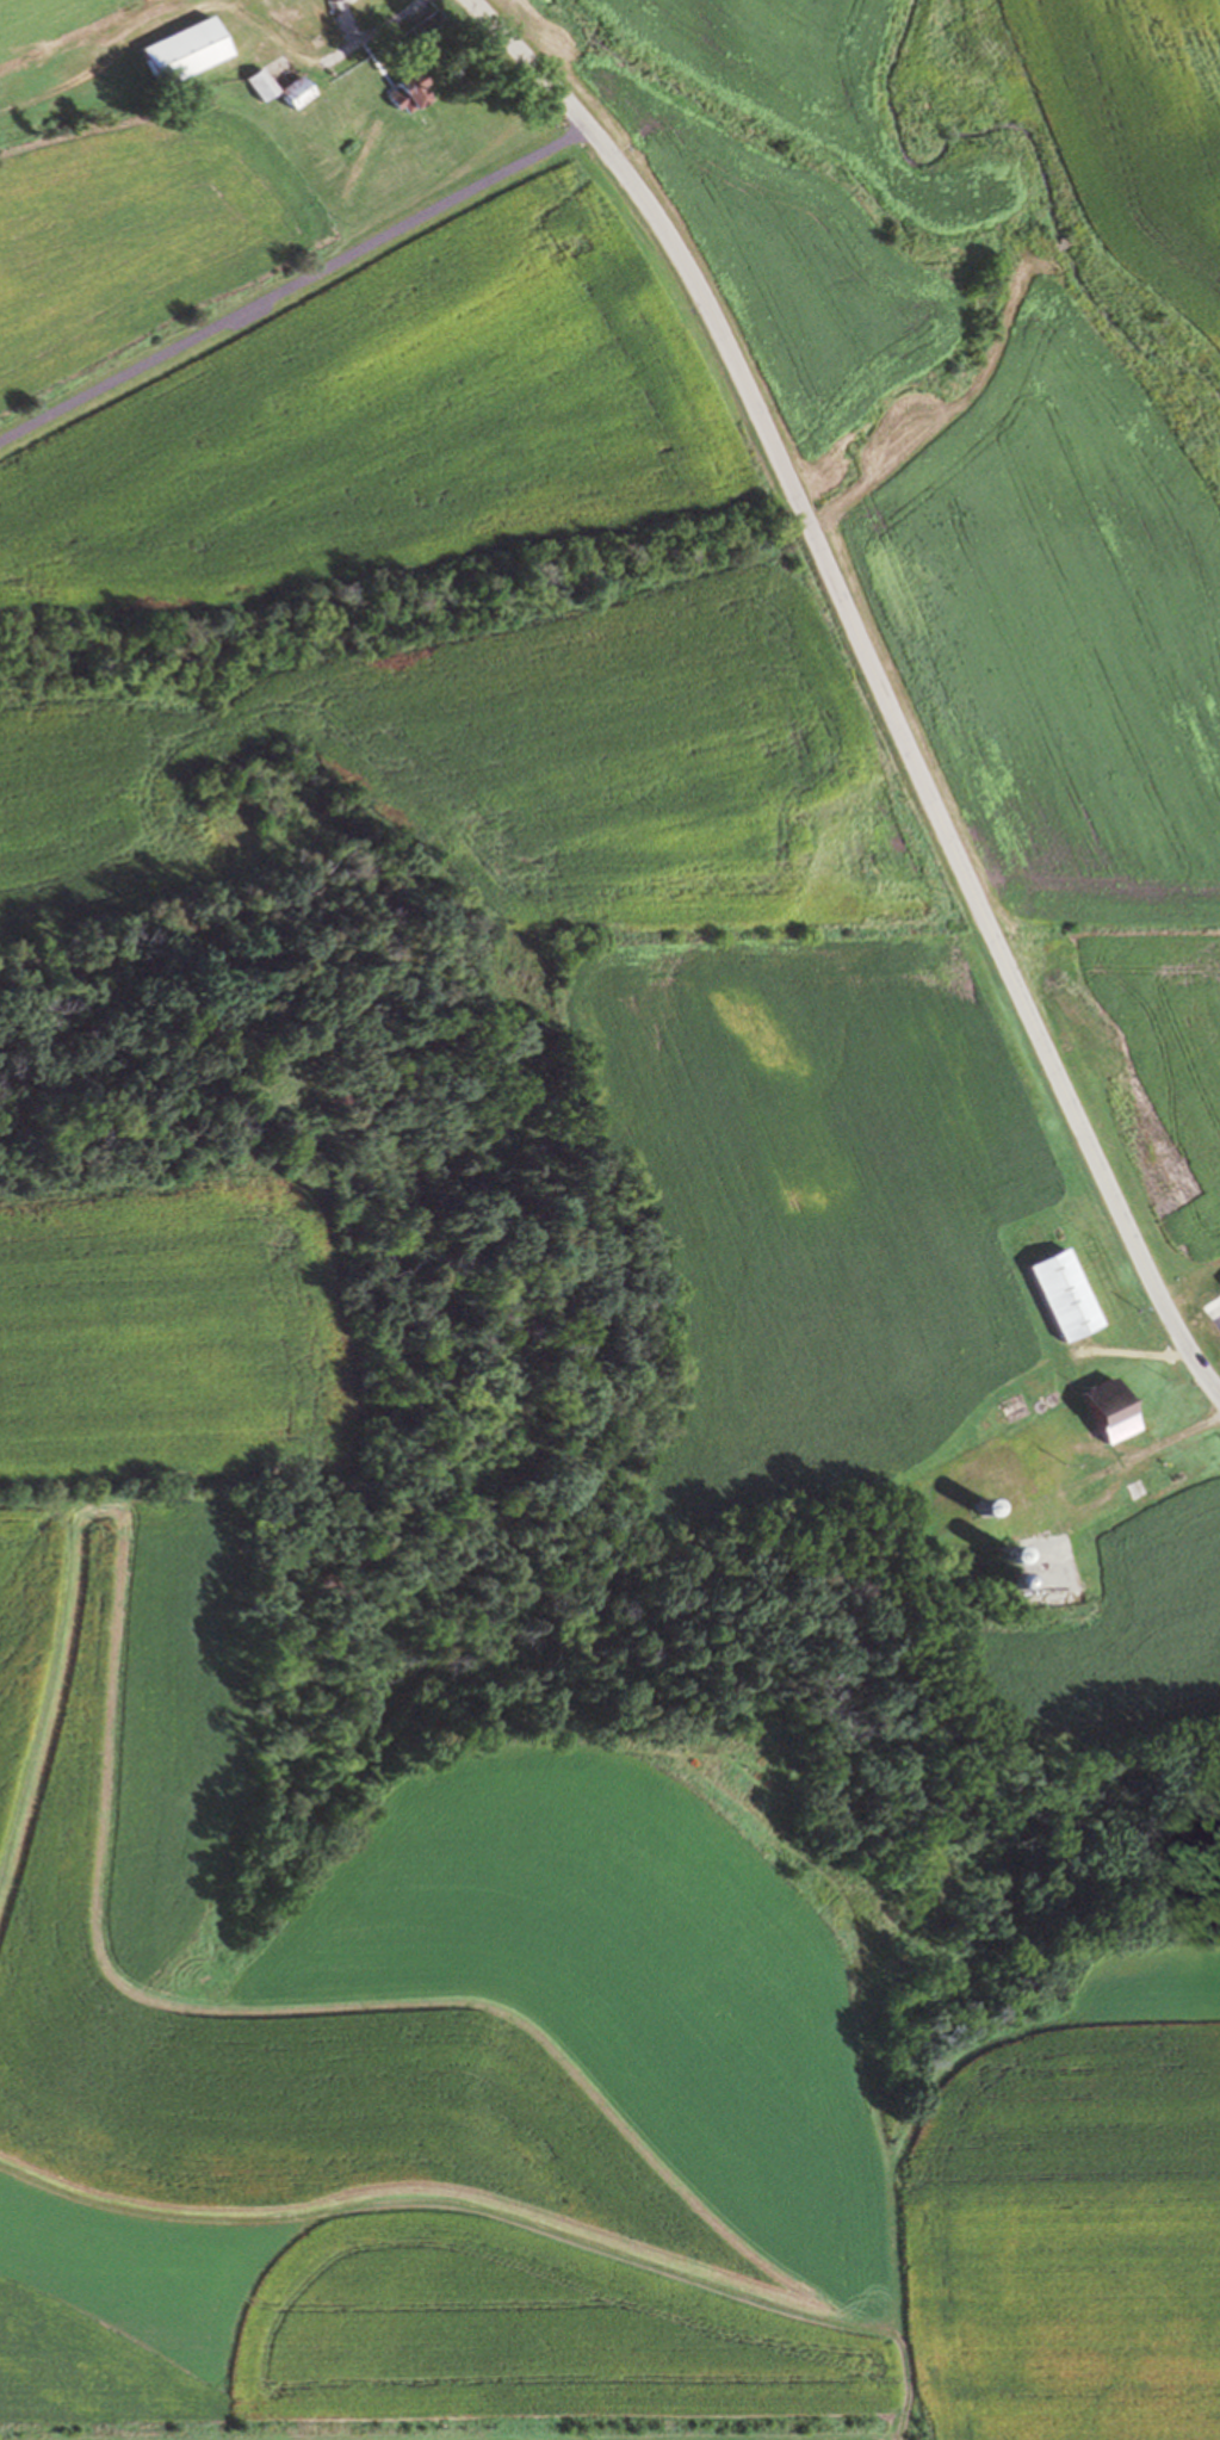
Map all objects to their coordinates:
building: (342, 1)
building: (429, 27)
road: (296, 48)
building: (197, 51)
building: (271, 85)
building: (308, 92)
building: (423, 93)
river: (1033, 151)
road: (1058, 244)
road: (290, 287)
road: (874, 677)
building: (1061, 1298)
building: (1108, 1410)
building: (981, 1507)
building: (1009, 1554)
building: (915, 1568)
building: (1010, 1581)

